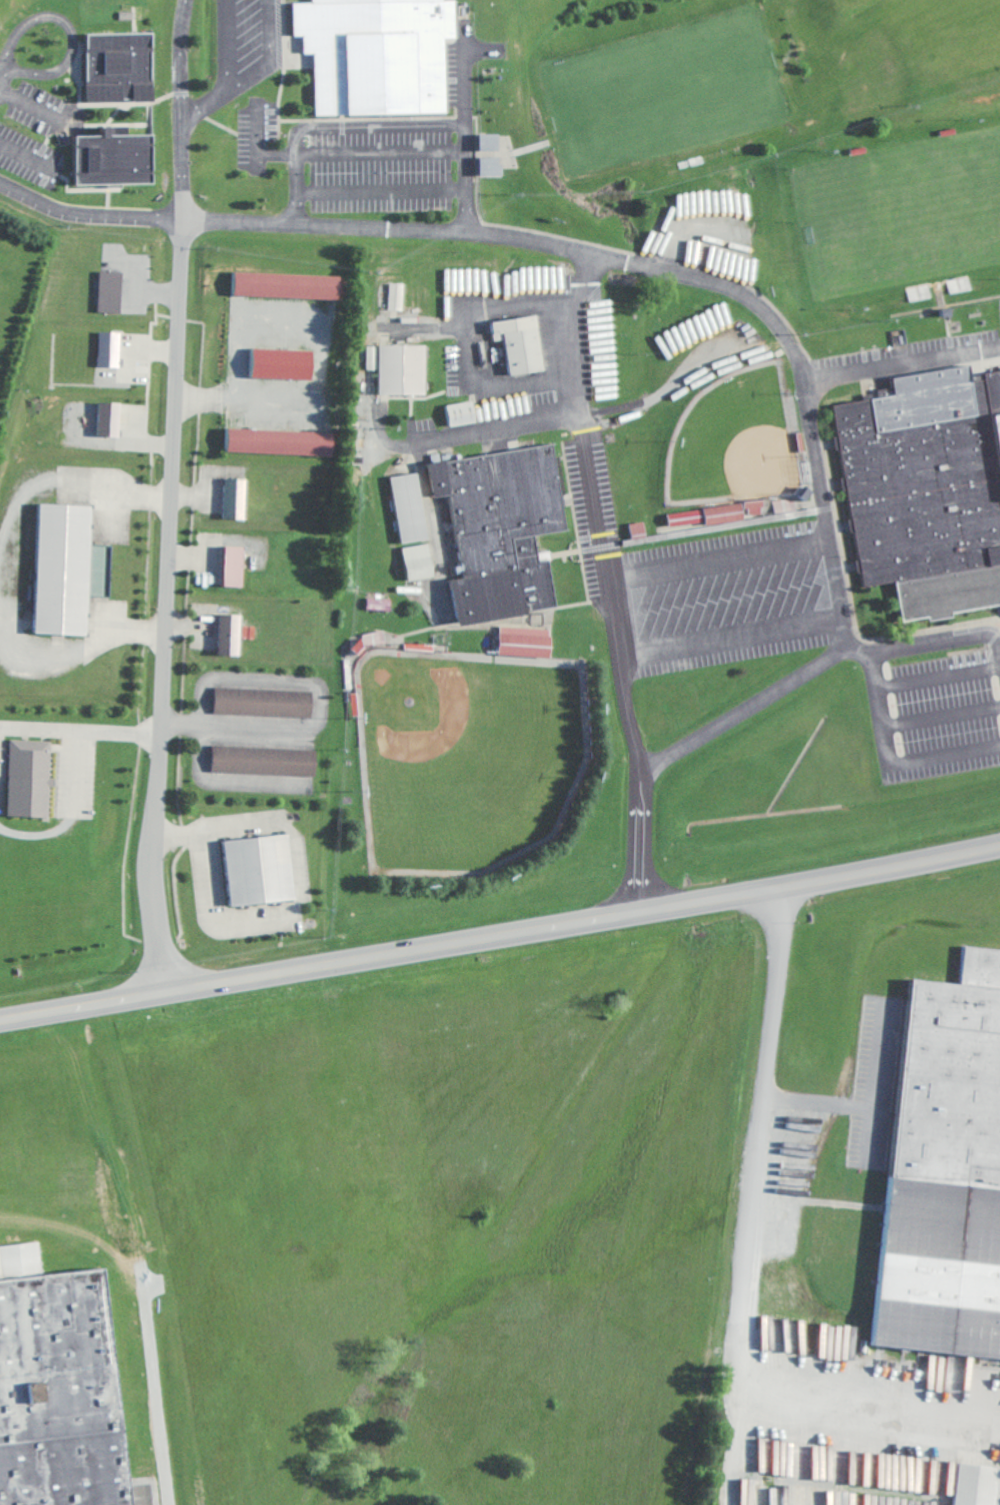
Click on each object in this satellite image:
road: (69, 29)
road: (181, 46)
road: (228, 46)
building: (380, 54)
road: (273, 57)
building: (122, 66)
road: (2, 77)
road: (32, 104)
road: (183, 106)
road: (259, 132)
road: (465, 139)
building: (491, 141)
road: (362, 151)
building: (117, 157)
building: (492, 165)
road: (300, 186)
park: (906, 208)
road: (425, 227)
building: (289, 284)
building: (111, 291)
building: (398, 296)
building: (523, 343)
building: (110, 349)
building: (285, 363)
building: (402, 368)
road: (580, 408)
building: (465, 413)
road: (807, 416)
building: (110, 418)
building: (281, 441)
park: (730, 441)
road: (65, 482)
building: (923, 490)
building: (236, 498)
building: (412, 507)
building: (757, 507)
building: (710, 515)
road: (711, 526)
road: (172, 530)
building: (505, 530)
building: (641, 530)
building: (421, 562)
building: (235, 566)
building: (70, 569)
road: (605, 587)
building: (381, 604)
building: (231, 634)
building: (528, 641)
road: (69, 656)
road: (818, 672)
building: (265, 702)
parking lot: (943, 710)
road: (234, 727)
road: (87, 735)
park: (461, 756)
building: (266, 760)
road: (890, 765)
building: (31, 778)
road: (643, 838)
building: (261, 870)
road: (500, 939)
building: (949, 1169)
road: (750, 1260)
building: (53, 1395)
building: (979, 1484)

